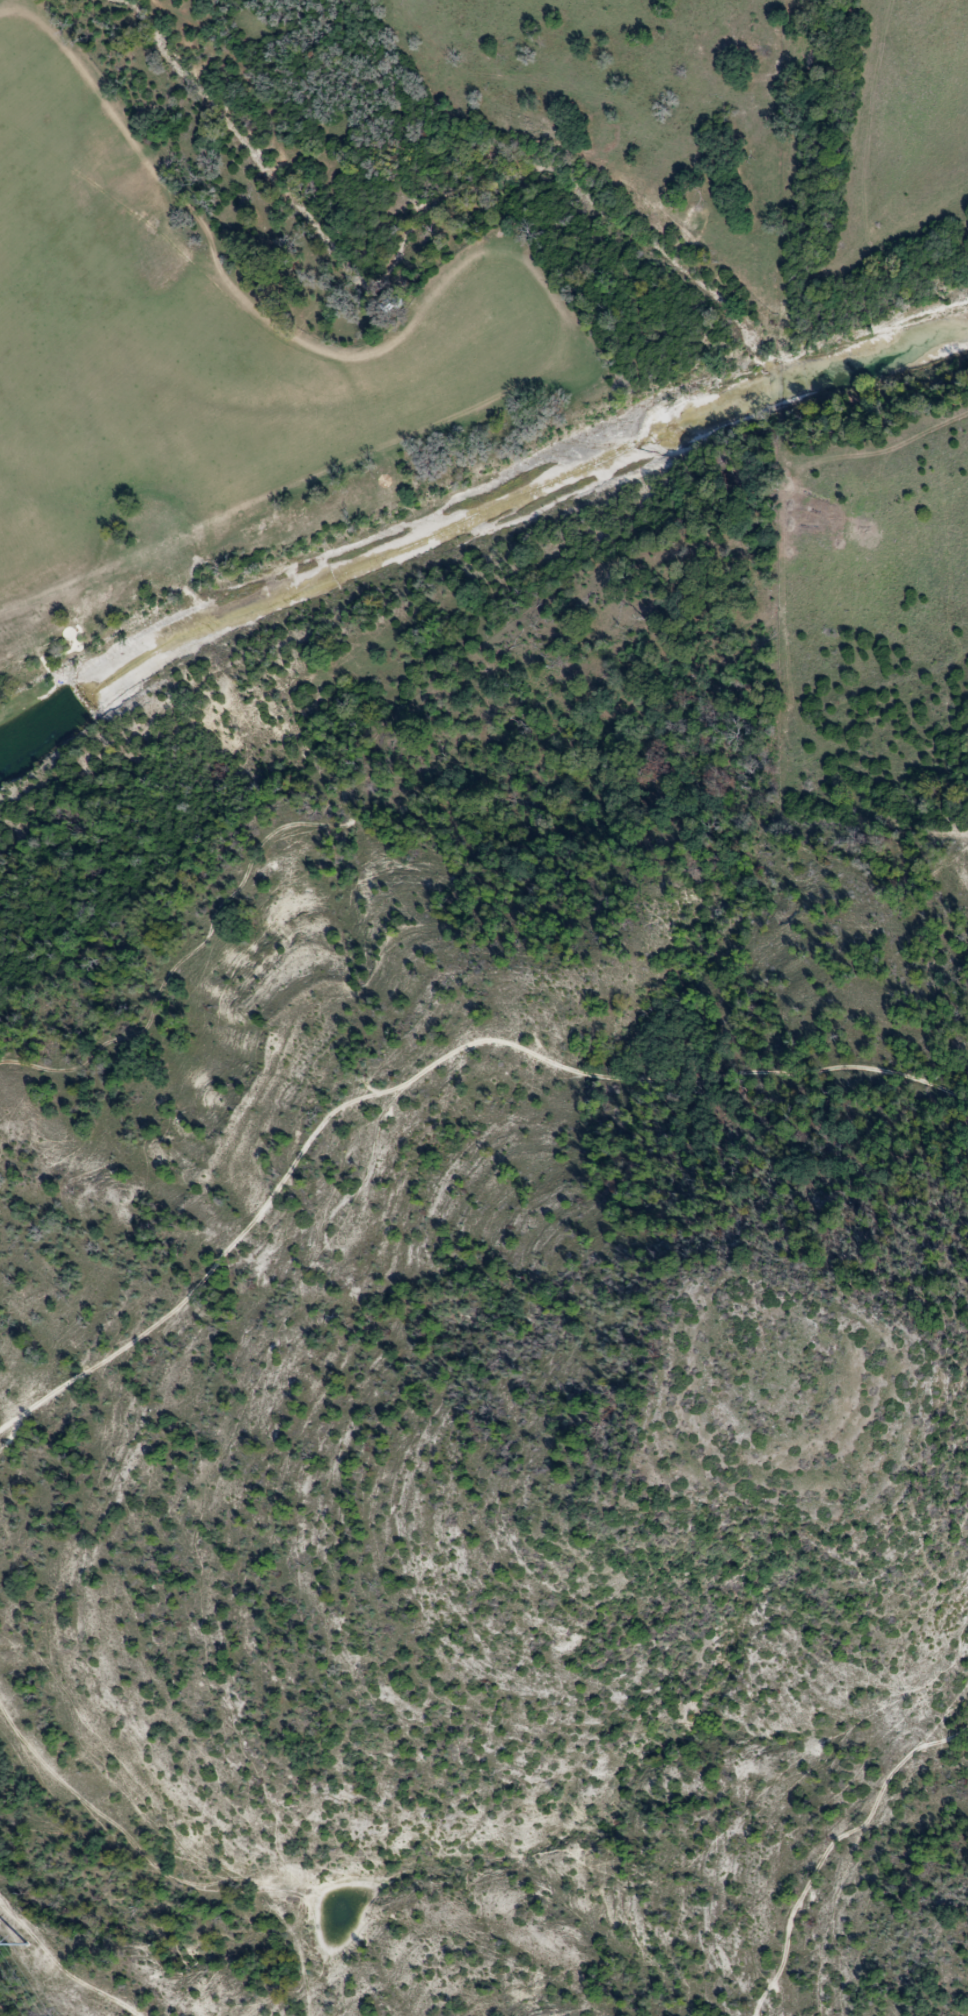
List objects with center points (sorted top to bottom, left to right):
power tower: (29, 1946)

